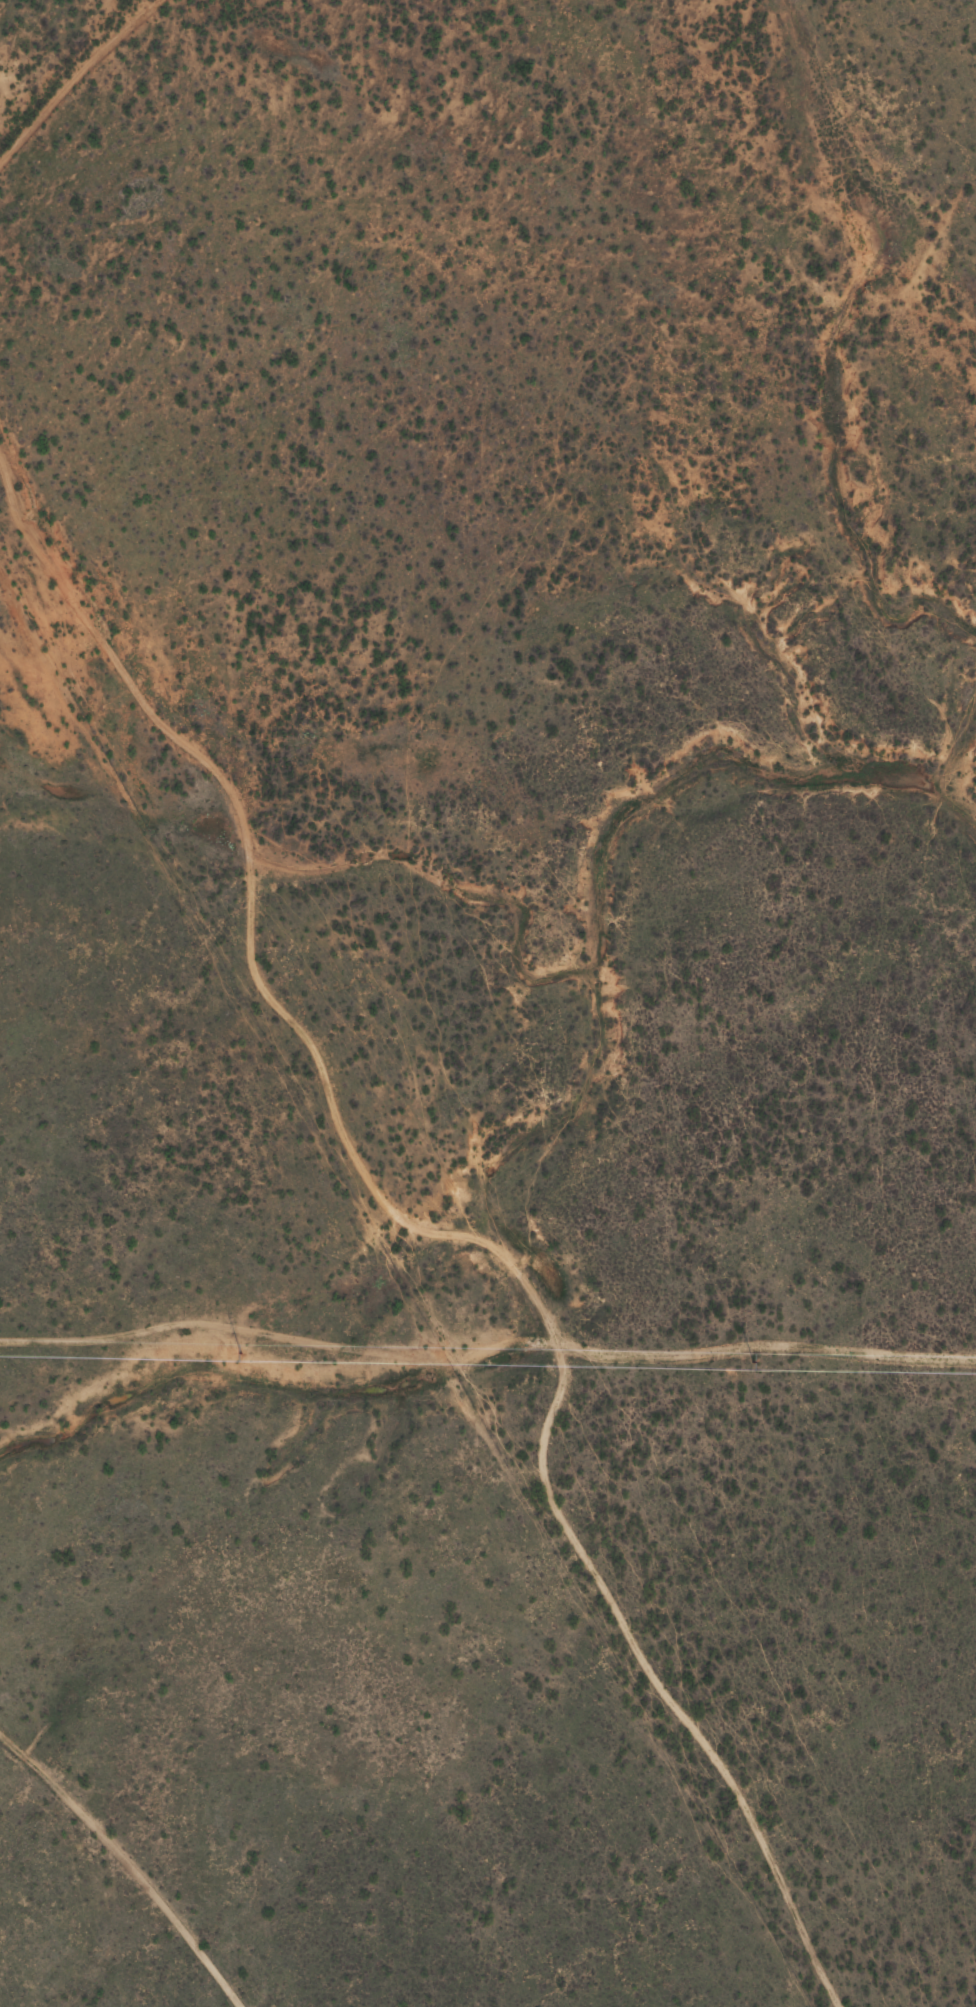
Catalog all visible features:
road: (78, 91)
road: (410, 1218)
power tower: (242, 1353)
power tower: (754, 1361)
road: (122, 1860)

